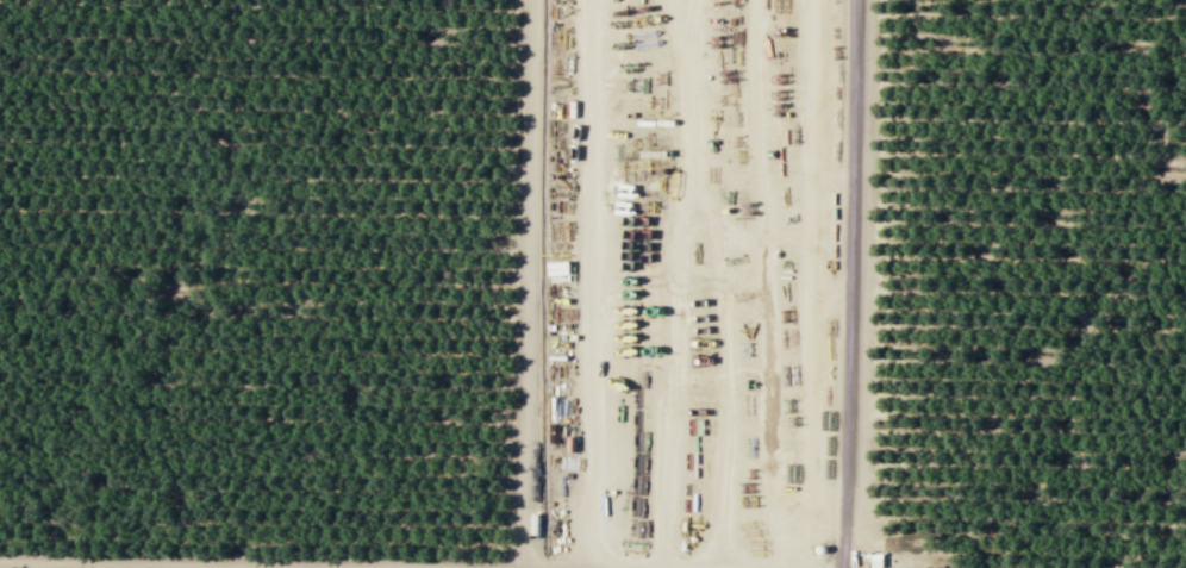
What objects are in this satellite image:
road: (849, 283)
road: (524, 286)
road: (162, 566)

